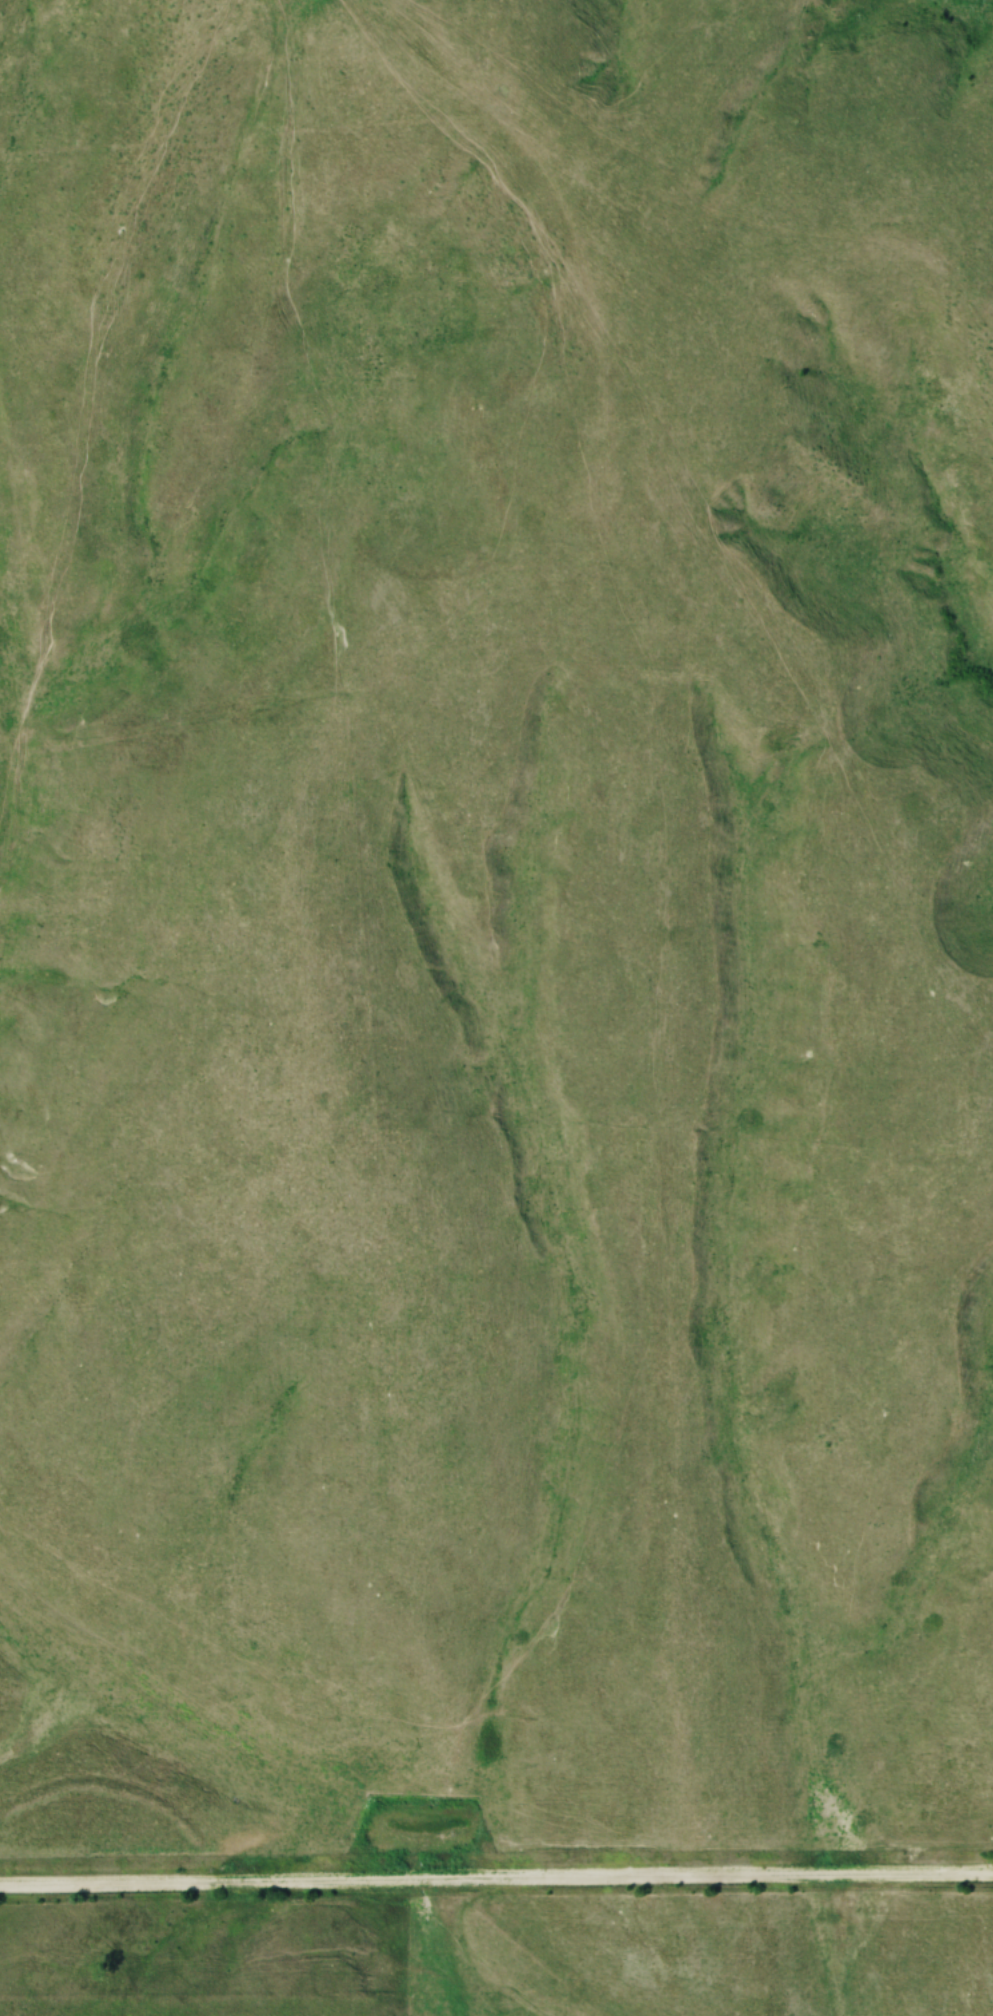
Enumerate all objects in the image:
road: (496, 1877)

